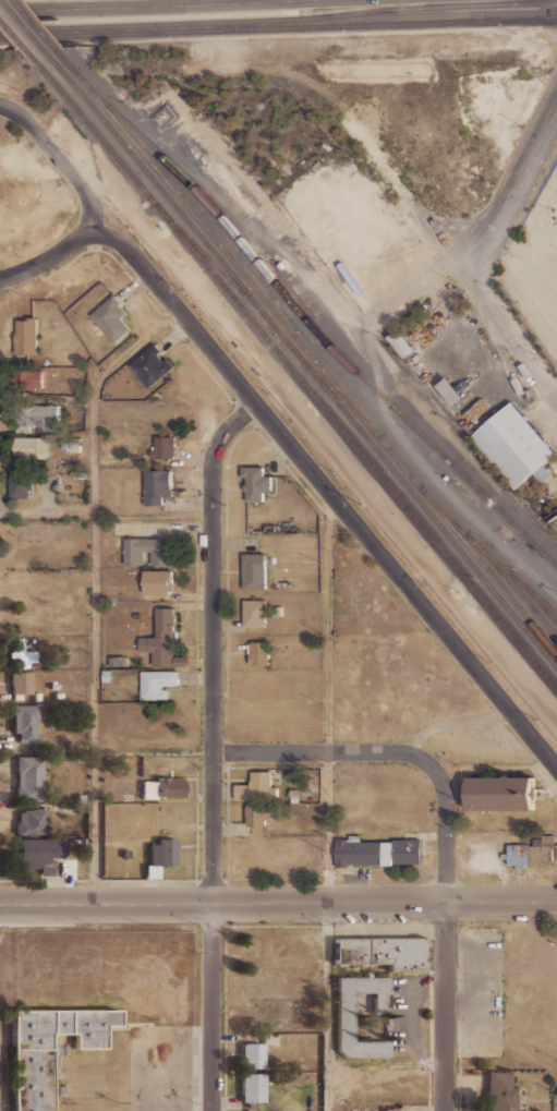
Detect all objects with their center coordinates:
road: (150, 5)
railway: (22, 23)
railway: (35, 23)
road: (278, 24)
railway: (13, 32)
road: (58, 159)
road: (48, 258)
road: (451, 262)
railway: (216, 268)
building: (111, 318)
road: (509, 329)
railway: (320, 330)
building: (26, 337)
building: (401, 343)
railway: (300, 347)
railway: (299, 358)
road: (544, 363)
building: (149, 366)
railway: (290, 370)
building: (73, 371)
building: (32, 378)
railway: (326, 384)
building: (516, 385)
building: (447, 389)
railway: (441, 411)
building: (37, 418)
building: (71, 445)
building: (513, 445)
building: (164, 448)
building: (29, 450)
building: (81, 475)
building: (19, 483)
building: (256, 483)
building: (157, 485)
road: (328, 491)
road: (467, 508)
building: (145, 551)
building: (255, 571)
building: (156, 582)
building: (283, 584)
railway: (498, 585)
railway: (523, 587)
road: (96, 589)
railway: (546, 609)
building: (278, 611)
building: (254, 614)
building: (160, 639)
building: (21, 654)
building: (258, 654)
building: (116, 662)
building: (180, 662)
building: (106, 676)
building: (21, 681)
building: (157, 684)
building: (53, 686)
building: (57, 696)
building: (16, 697)
building: (36, 697)
building: (25, 723)
road: (209, 748)
road: (322, 751)
building: (293, 775)
building: (29, 778)
building: (169, 787)
building: (256, 787)
building: (146, 790)
building: (293, 793)
building: (499, 793)
building: (78, 798)
road: (324, 801)
building: (261, 818)
building: (31, 821)
building: (84, 842)
building: (70, 844)
building: (162, 849)
building: (377, 852)
building: (40, 853)
building: (125, 854)
building: (531, 855)
building: (72, 869)
building: (150, 872)
road: (278, 903)
road: (446, 935)
building: (385, 951)
parking lot: (480, 991)
parking lot: (408, 1014)
building: (343, 1026)
building: (48, 1049)
building: (252, 1055)
building: (253, 1087)
building: (535, 1090)
building: (500, 1092)
building: (423, 1107)
building: (390, 1110)

